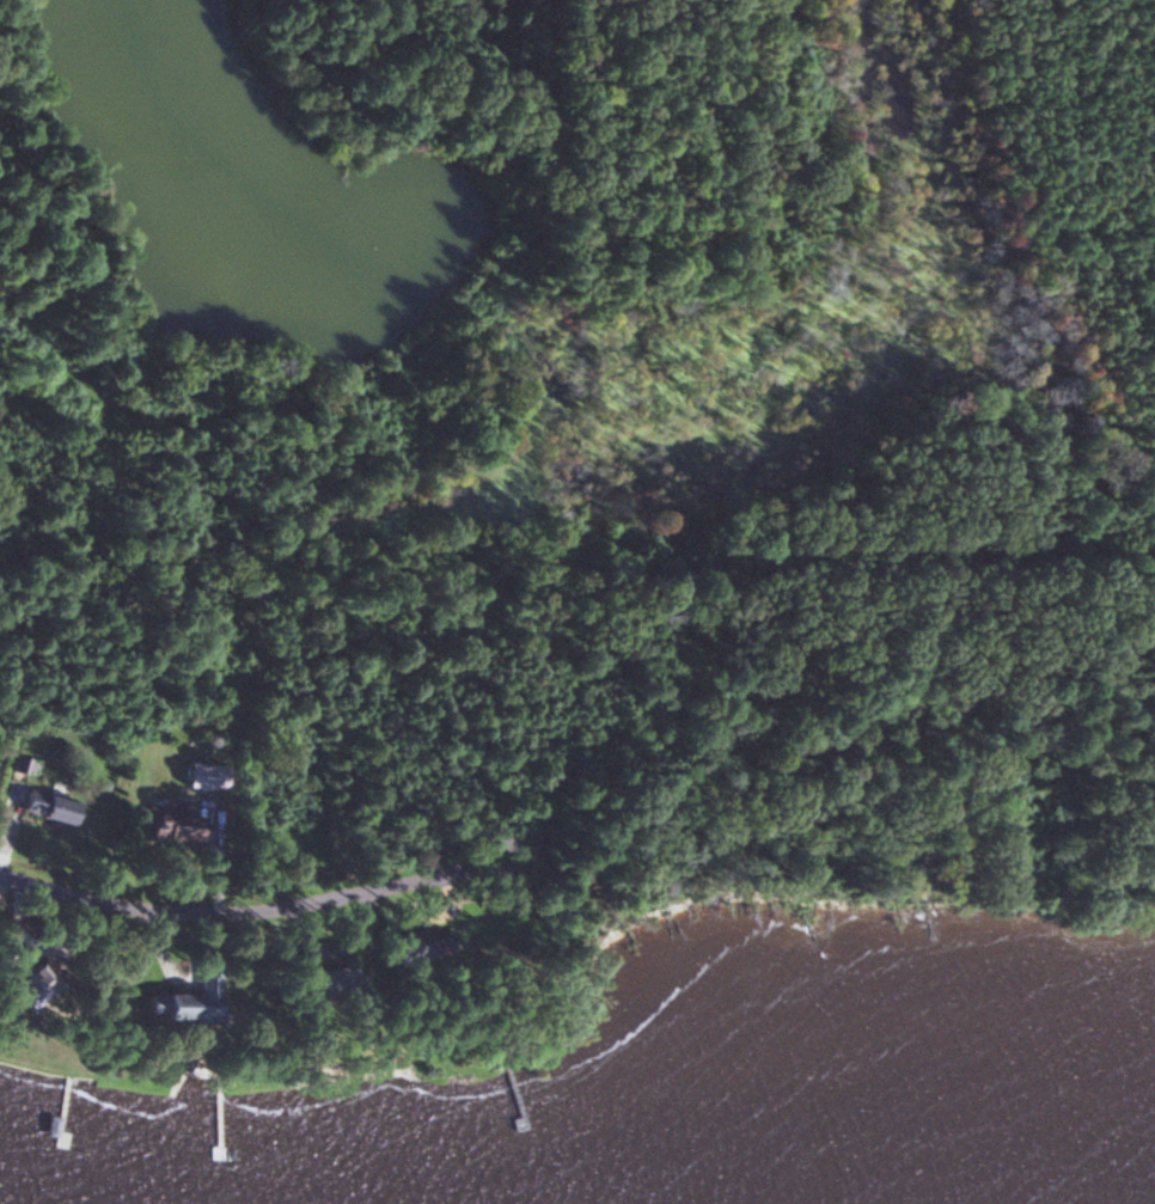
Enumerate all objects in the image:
building: (44, 807)
building: (172, 823)
road: (253, 909)
building: (418, 945)
building: (324, 979)
building: (29, 985)
building: (187, 1000)

